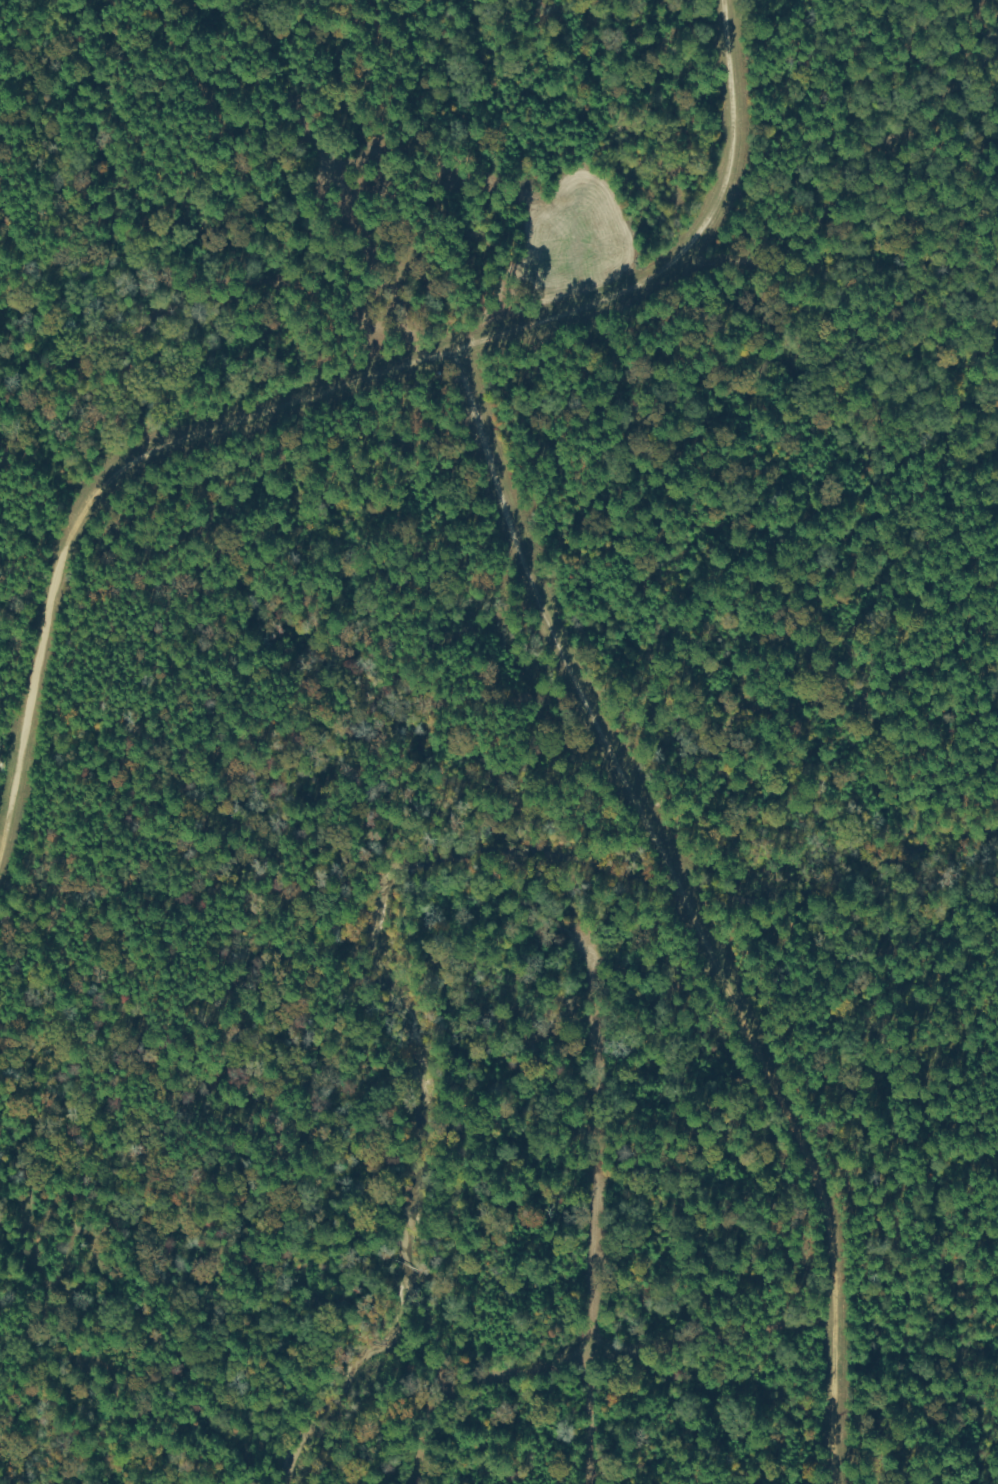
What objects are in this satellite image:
road: (131, 309)
road: (348, 427)
road: (724, 922)

